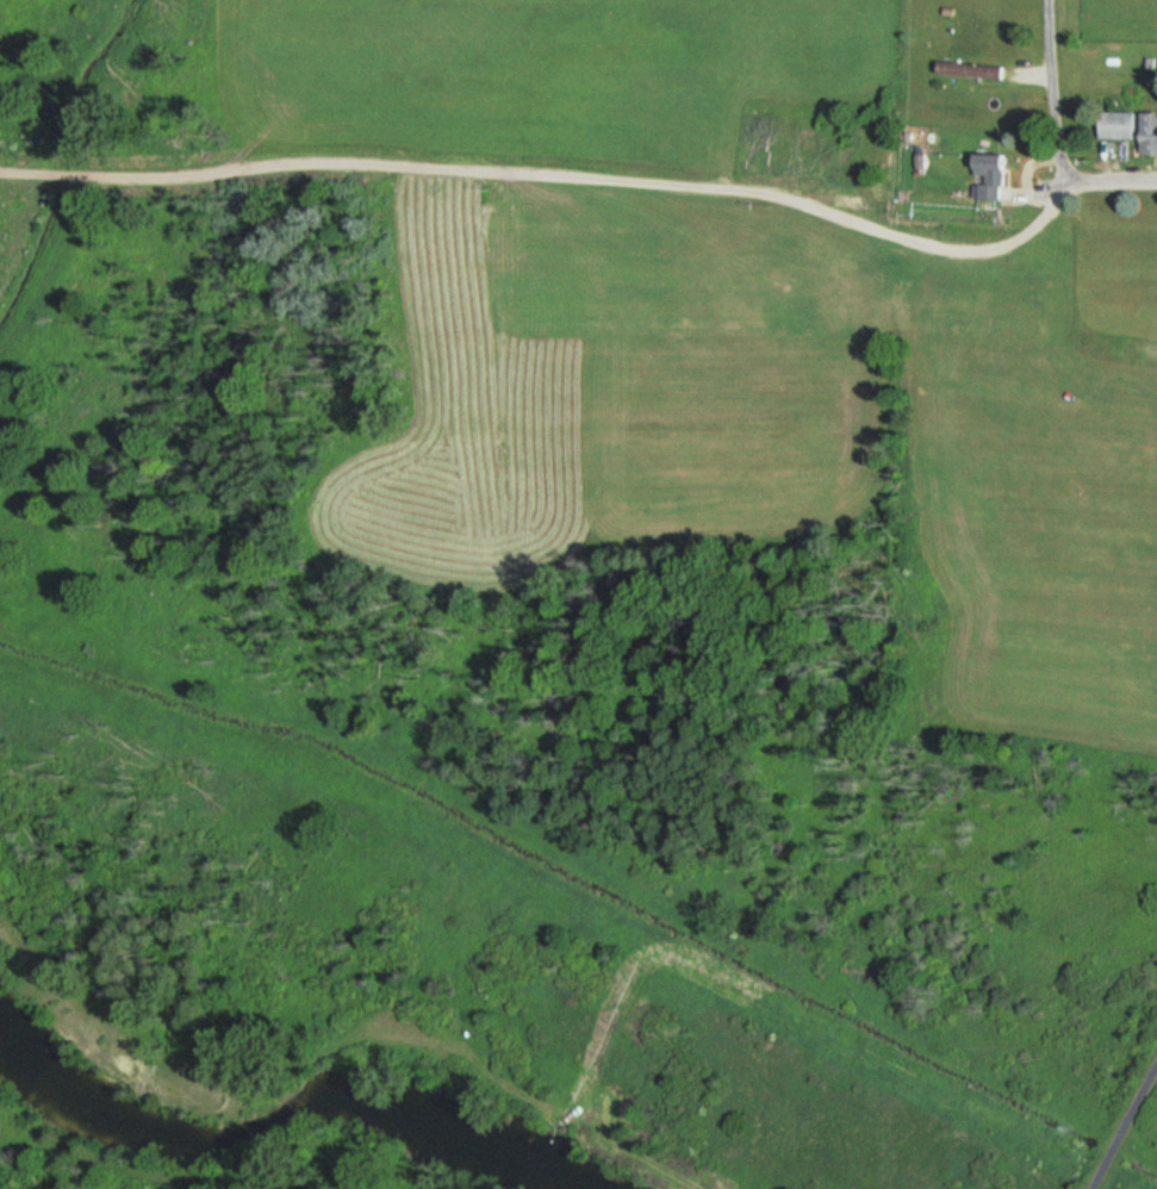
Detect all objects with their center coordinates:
building: (965, 71)
road: (1053, 88)
building: (1113, 126)
building: (1146, 133)
road: (599, 175)
building: (987, 176)
road: (1118, 1115)

